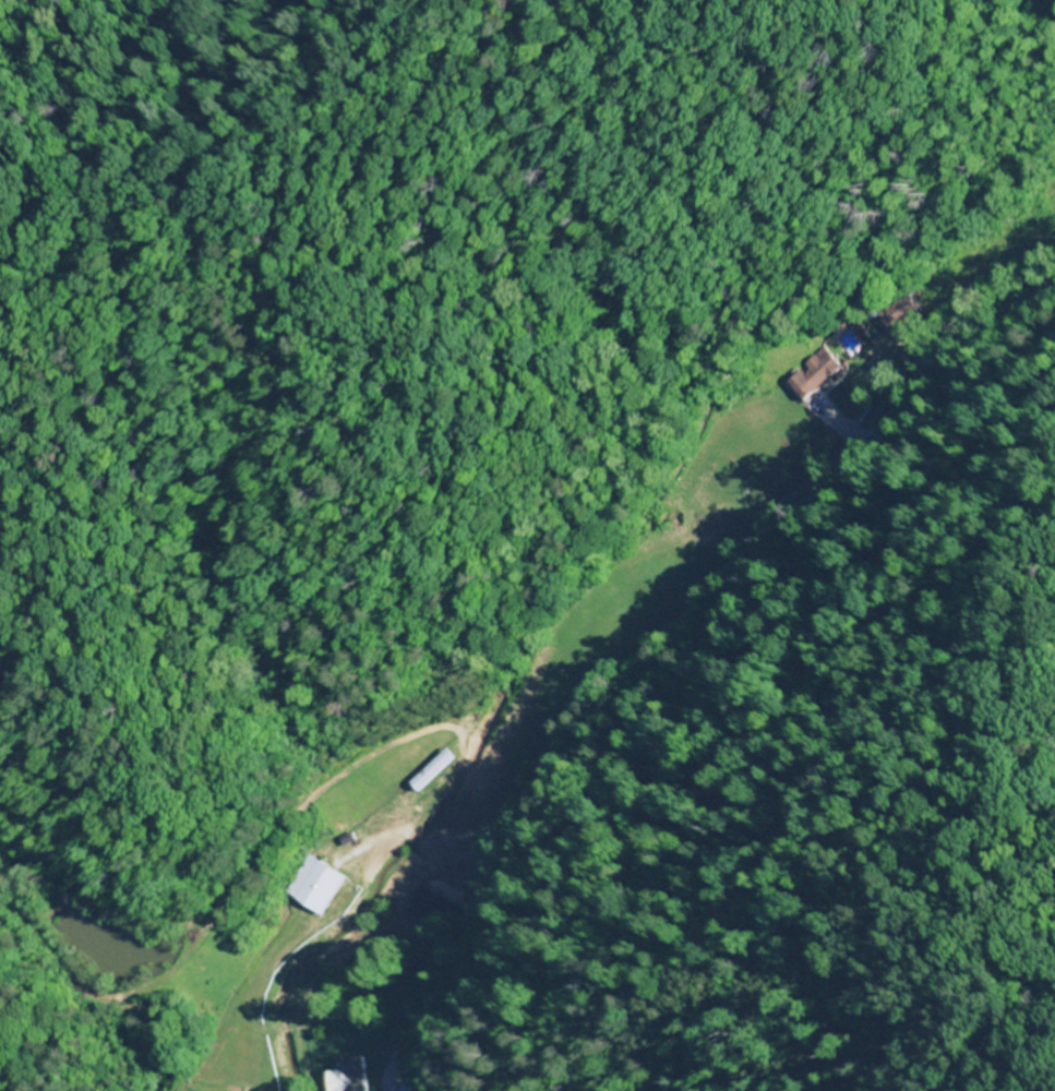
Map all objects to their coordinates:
building: (896, 312)
building: (813, 374)
road: (650, 637)
building: (432, 769)
building: (312, 884)
building: (419, 901)
building: (394, 1088)

